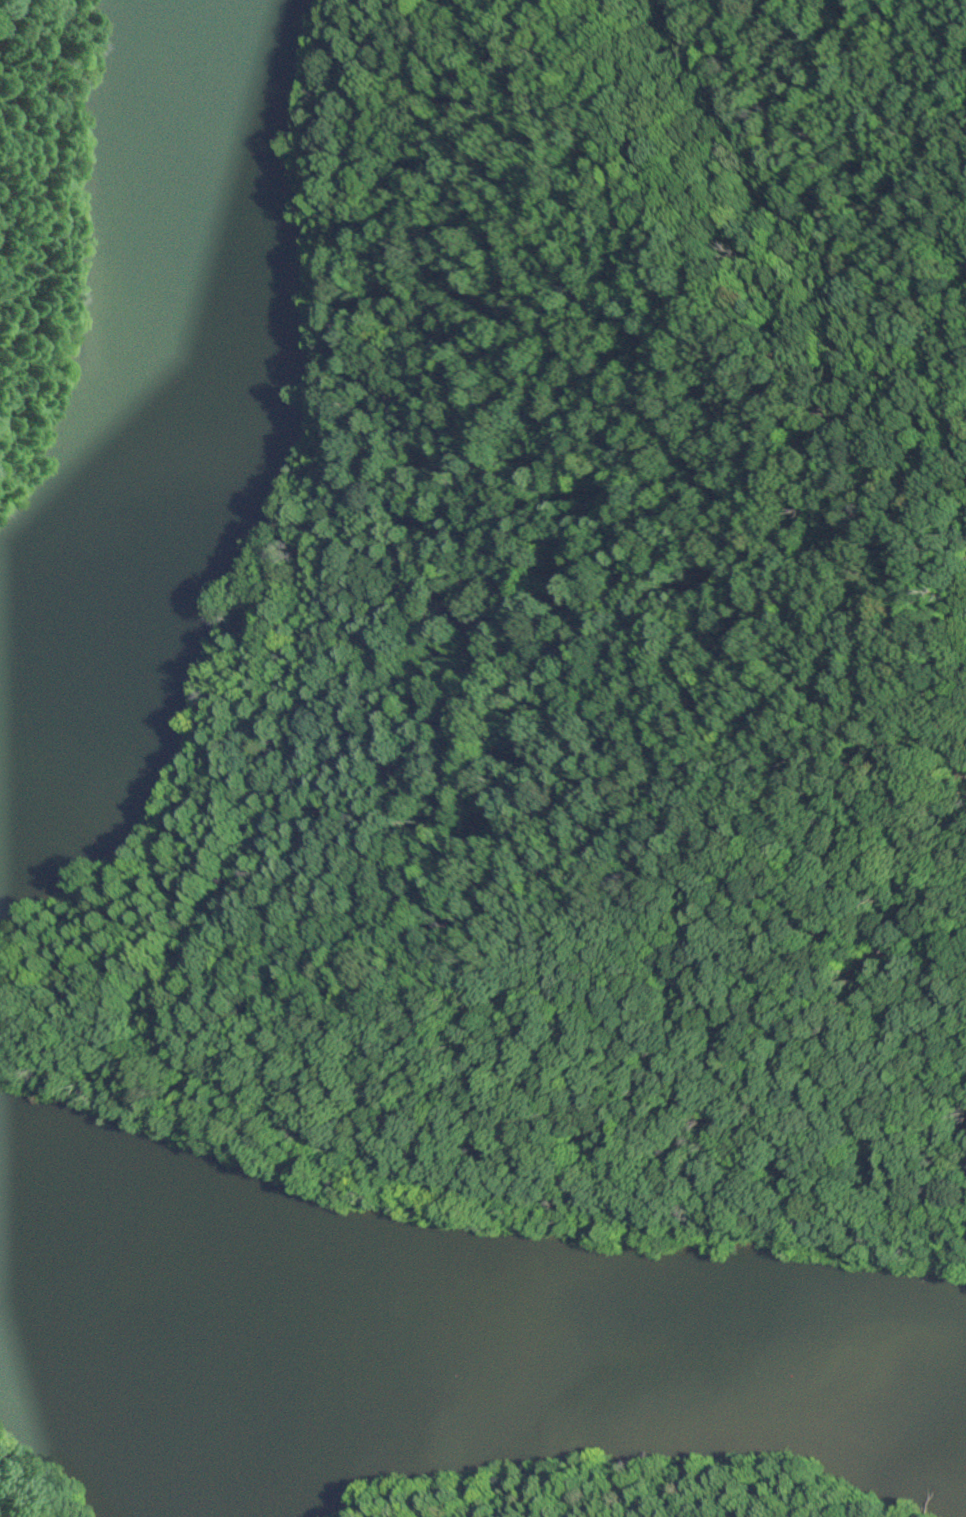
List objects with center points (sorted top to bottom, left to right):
river: (168, 373)
river: (484, 1309)

